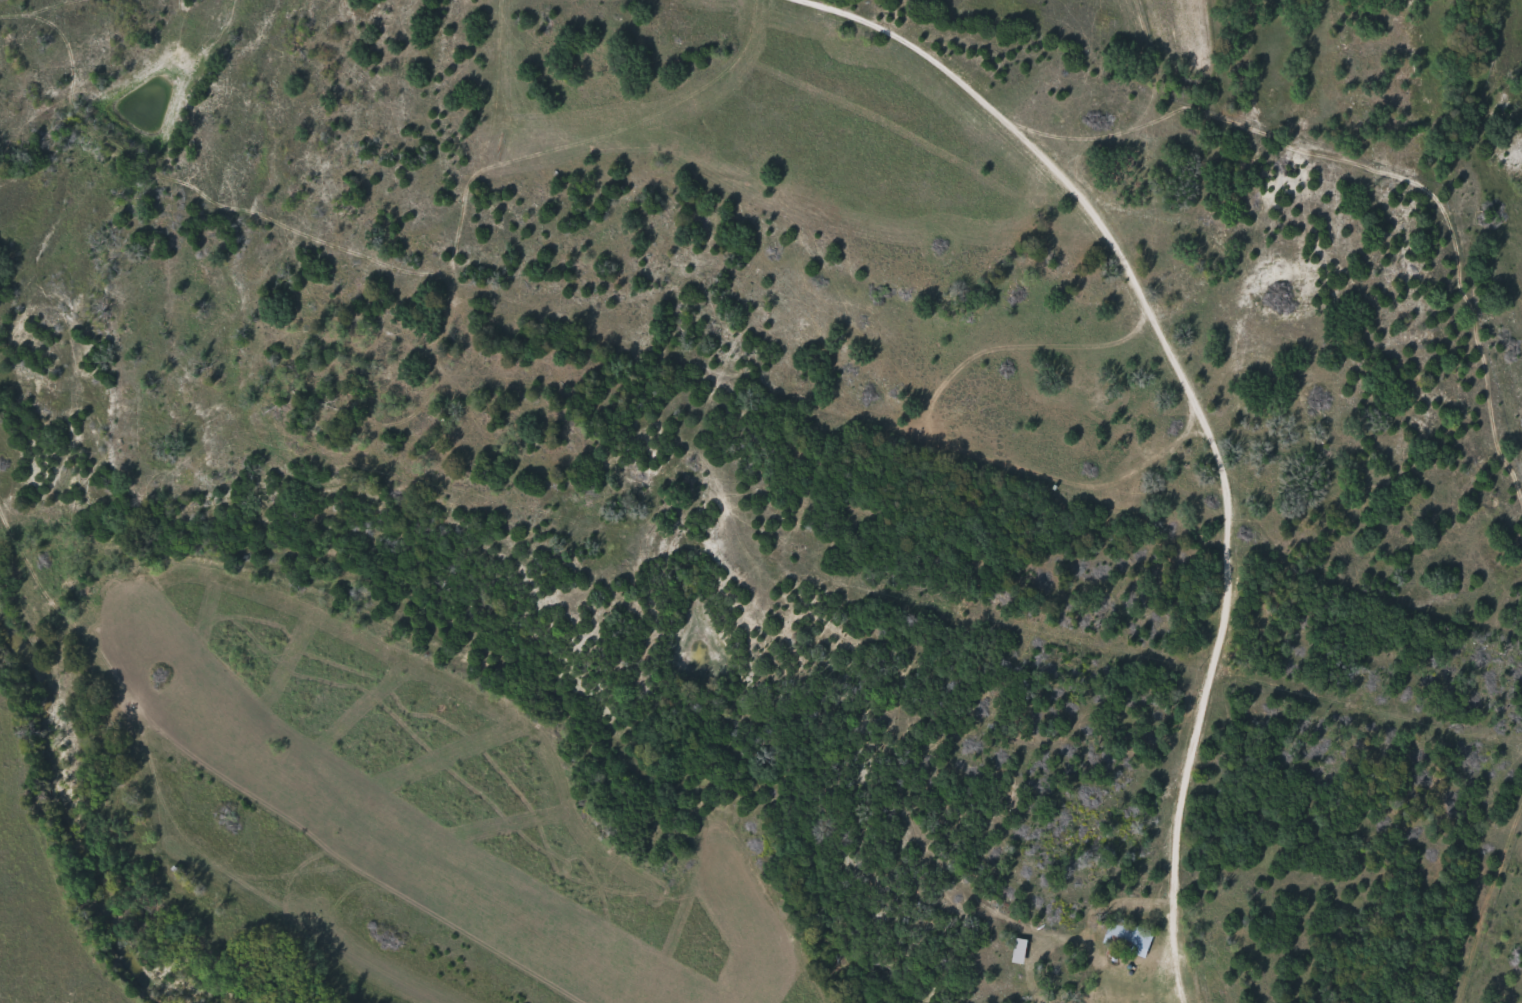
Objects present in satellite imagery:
road: (636, 548)
building: (1129, 935)
building: (1020, 948)

